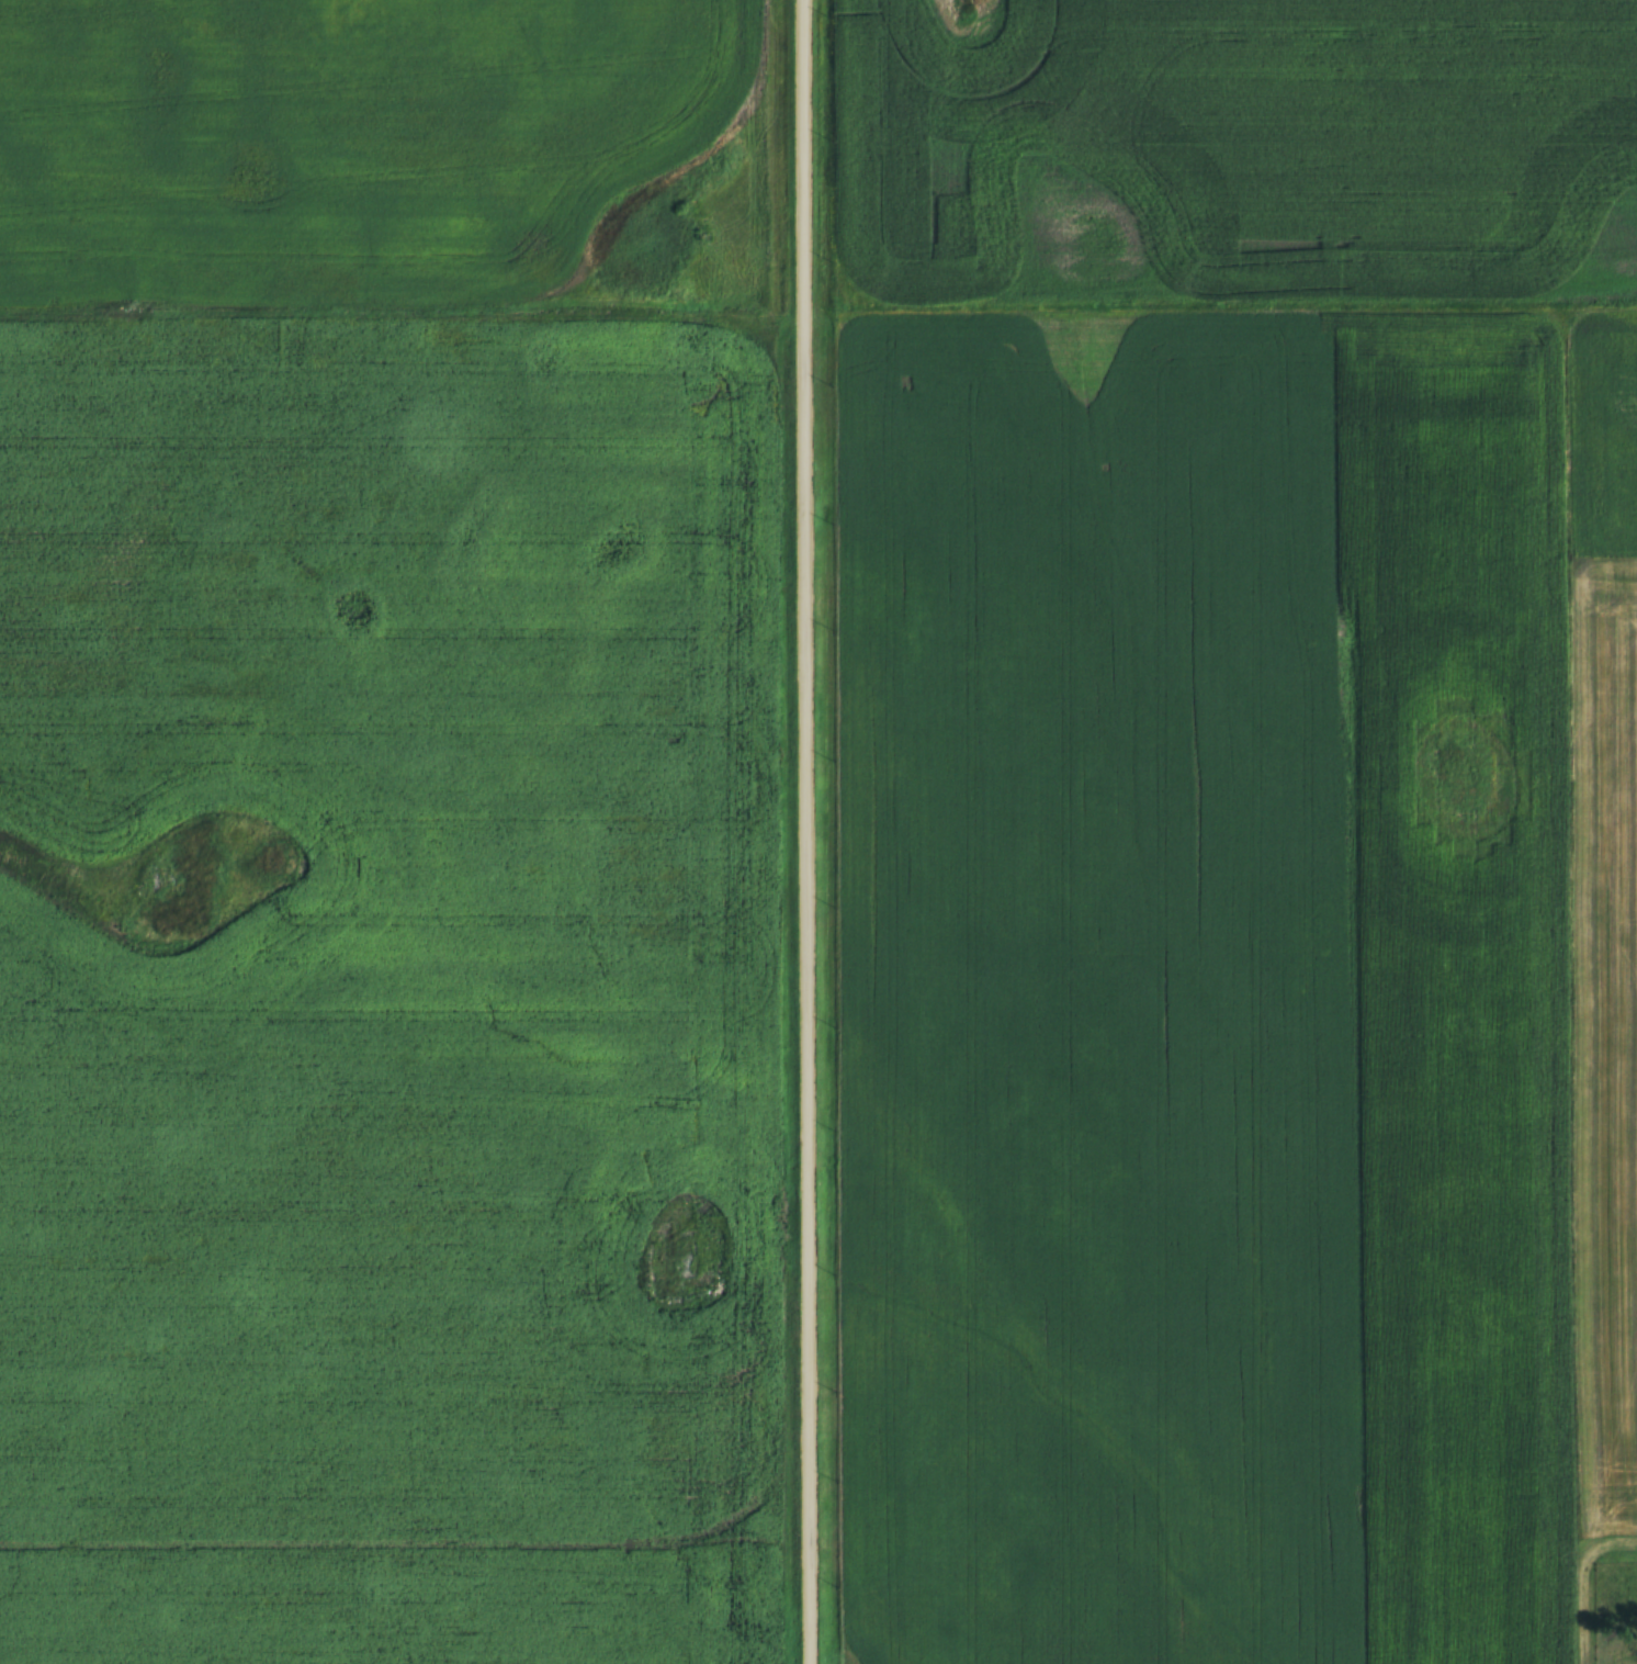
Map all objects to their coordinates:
road: (813, 832)

